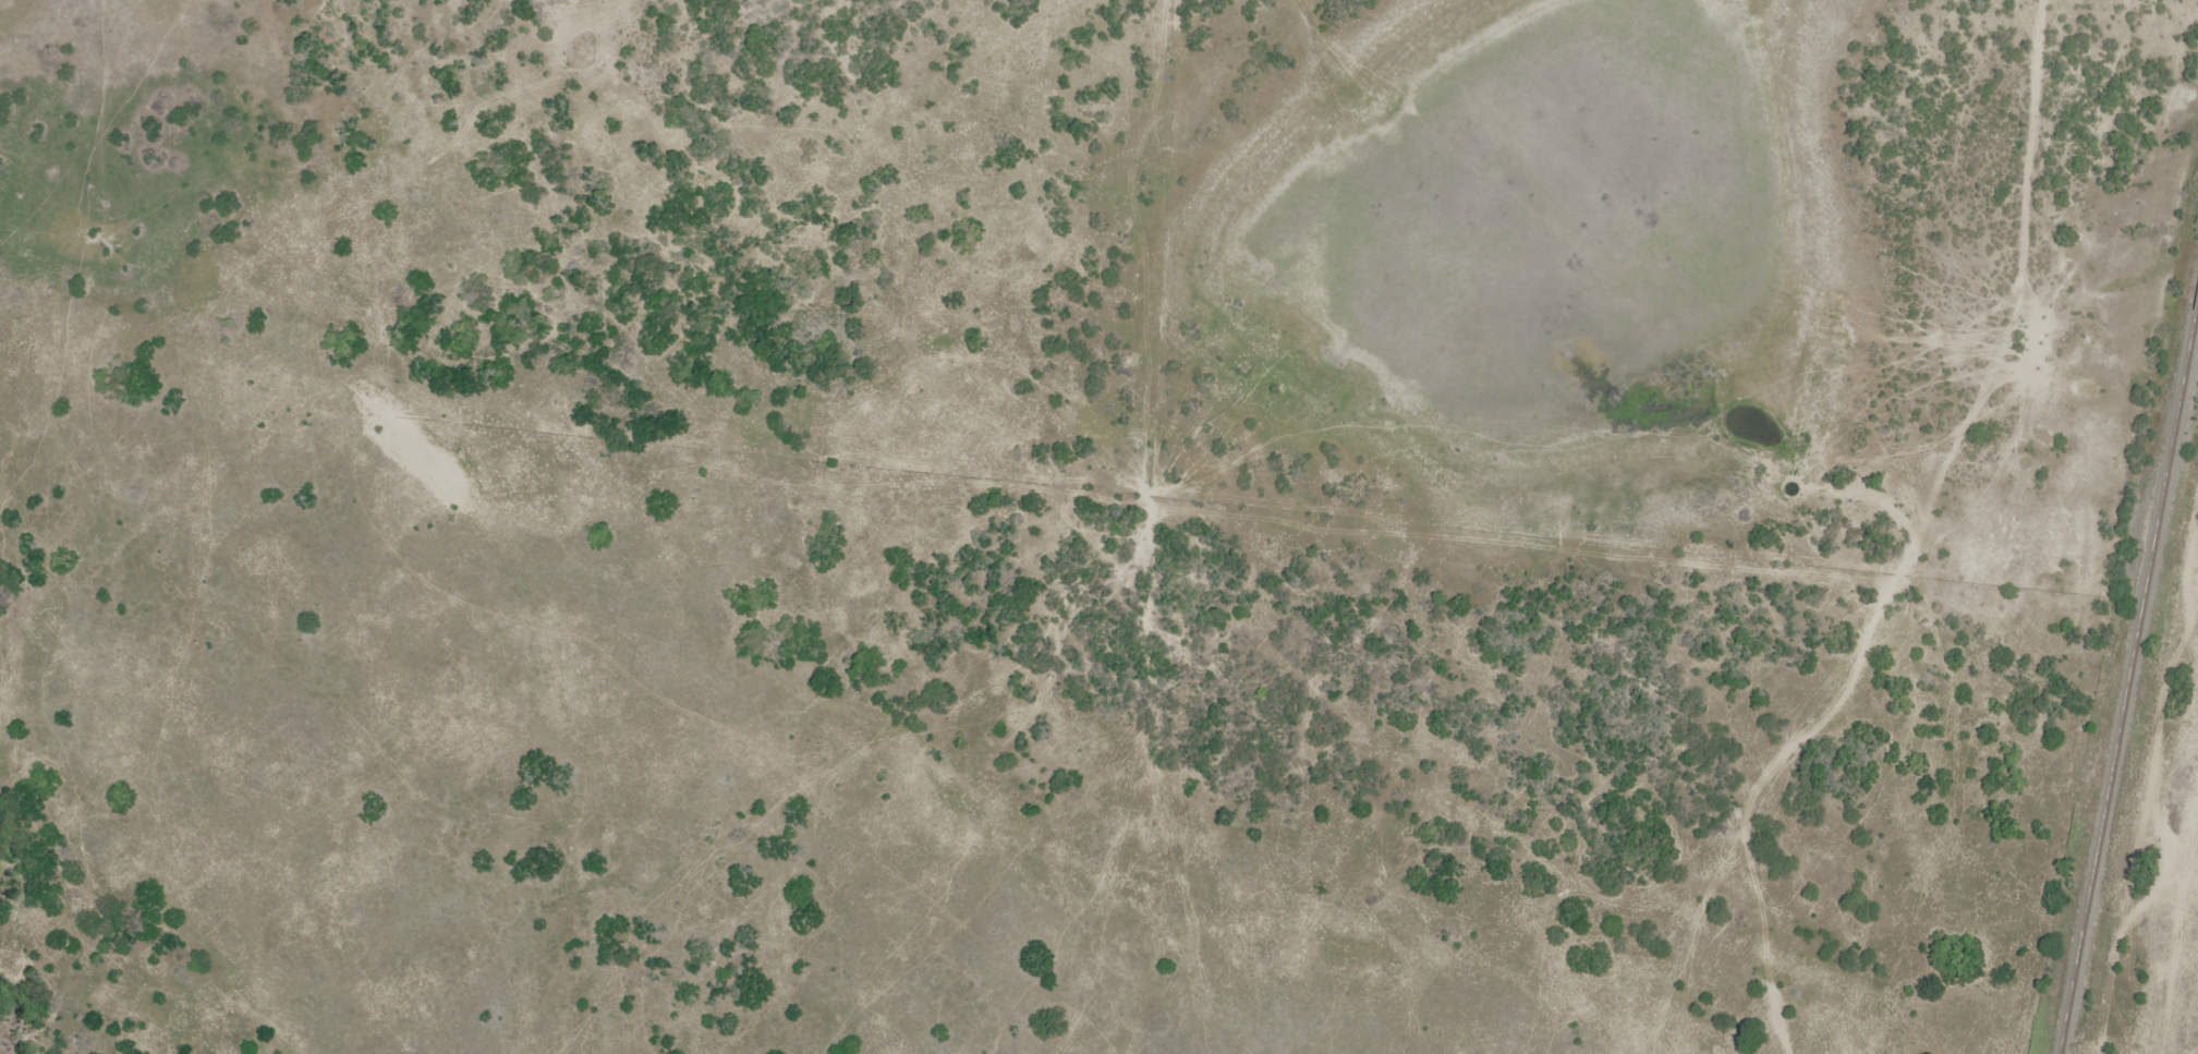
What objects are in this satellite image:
road: (2036, 525)
railway: (2130, 680)

